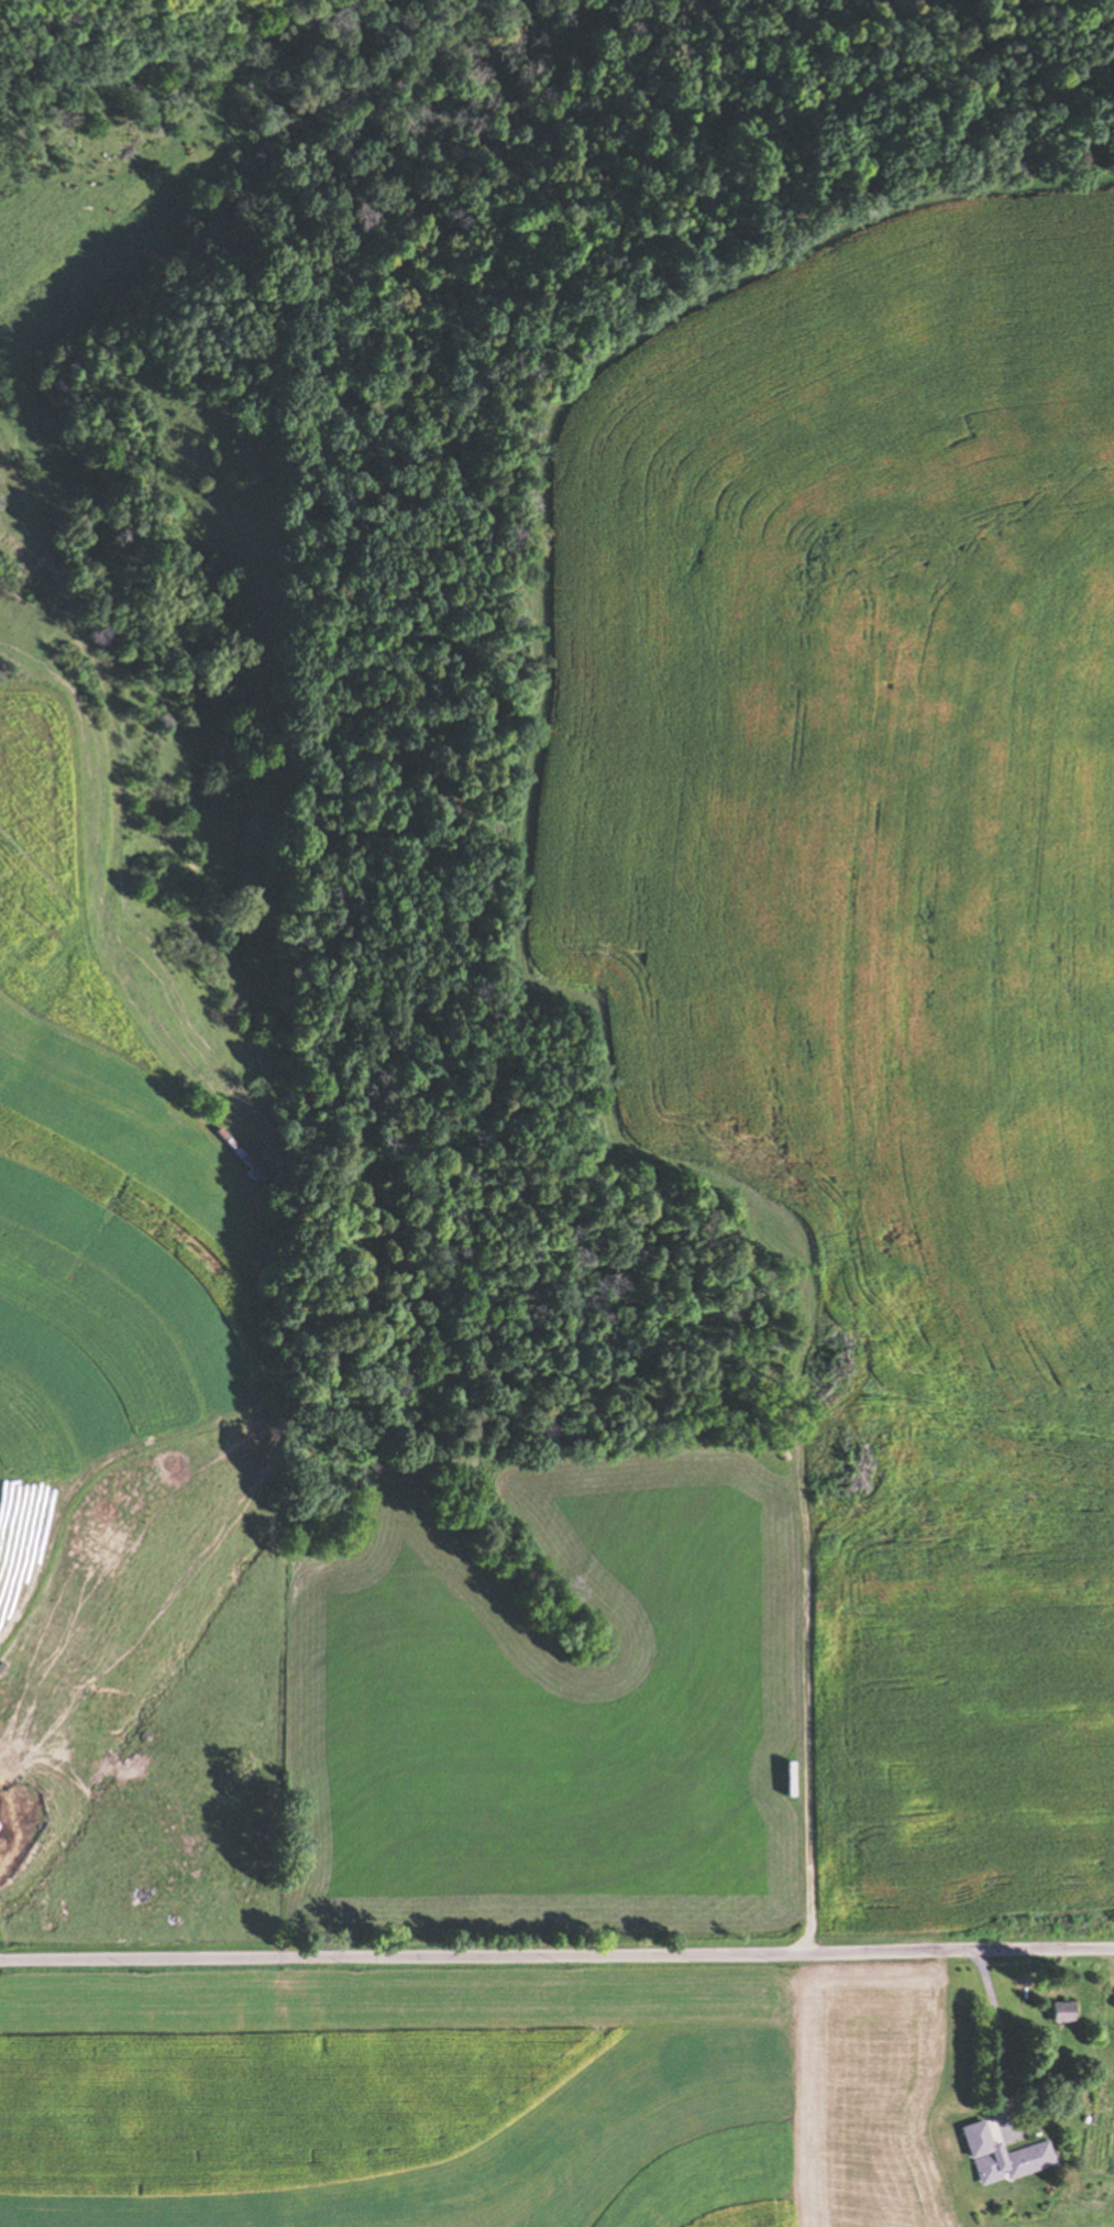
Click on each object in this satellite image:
crop: (848, 766)
crop: (52, 889)
crop: (352, 1619)
road: (810, 1730)
crop: (962, 1775)
building: (153, 1910)
road: (556, 1953)
building: (1059, 2011)
crop: (870, 2084)
crop: (400, 2091)
building: (1001, 2157)

